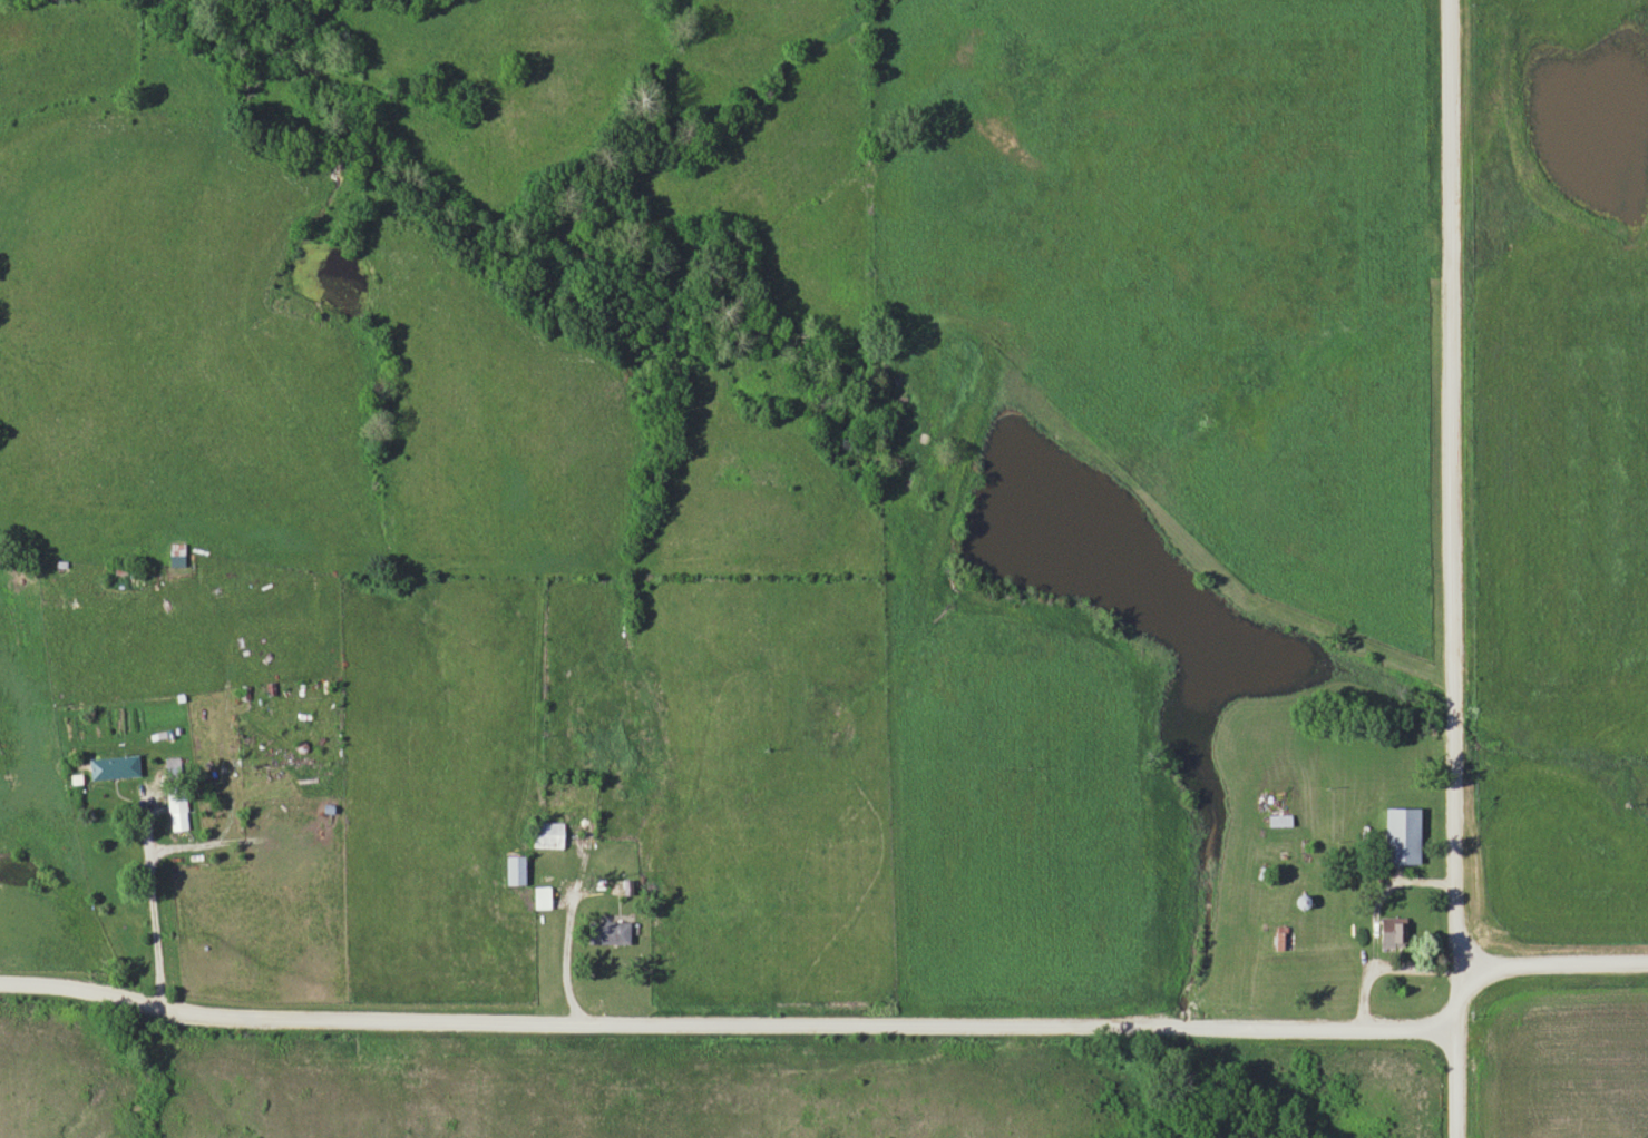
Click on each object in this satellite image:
road: (1450, 569)
building: (108, 767)
building: (173, 768)
building: (177, 811)
building: (1280, 820)
building: (546, 834)
building: (1401, 835)
building: (514, 870)
building: (540, 897)
road: (149, 905)
building: (1392, 929)
building: (607, 933)
road: (565, 936)
building: (1280, 938)
road: (1550, 963)
road: (724, 1027)

